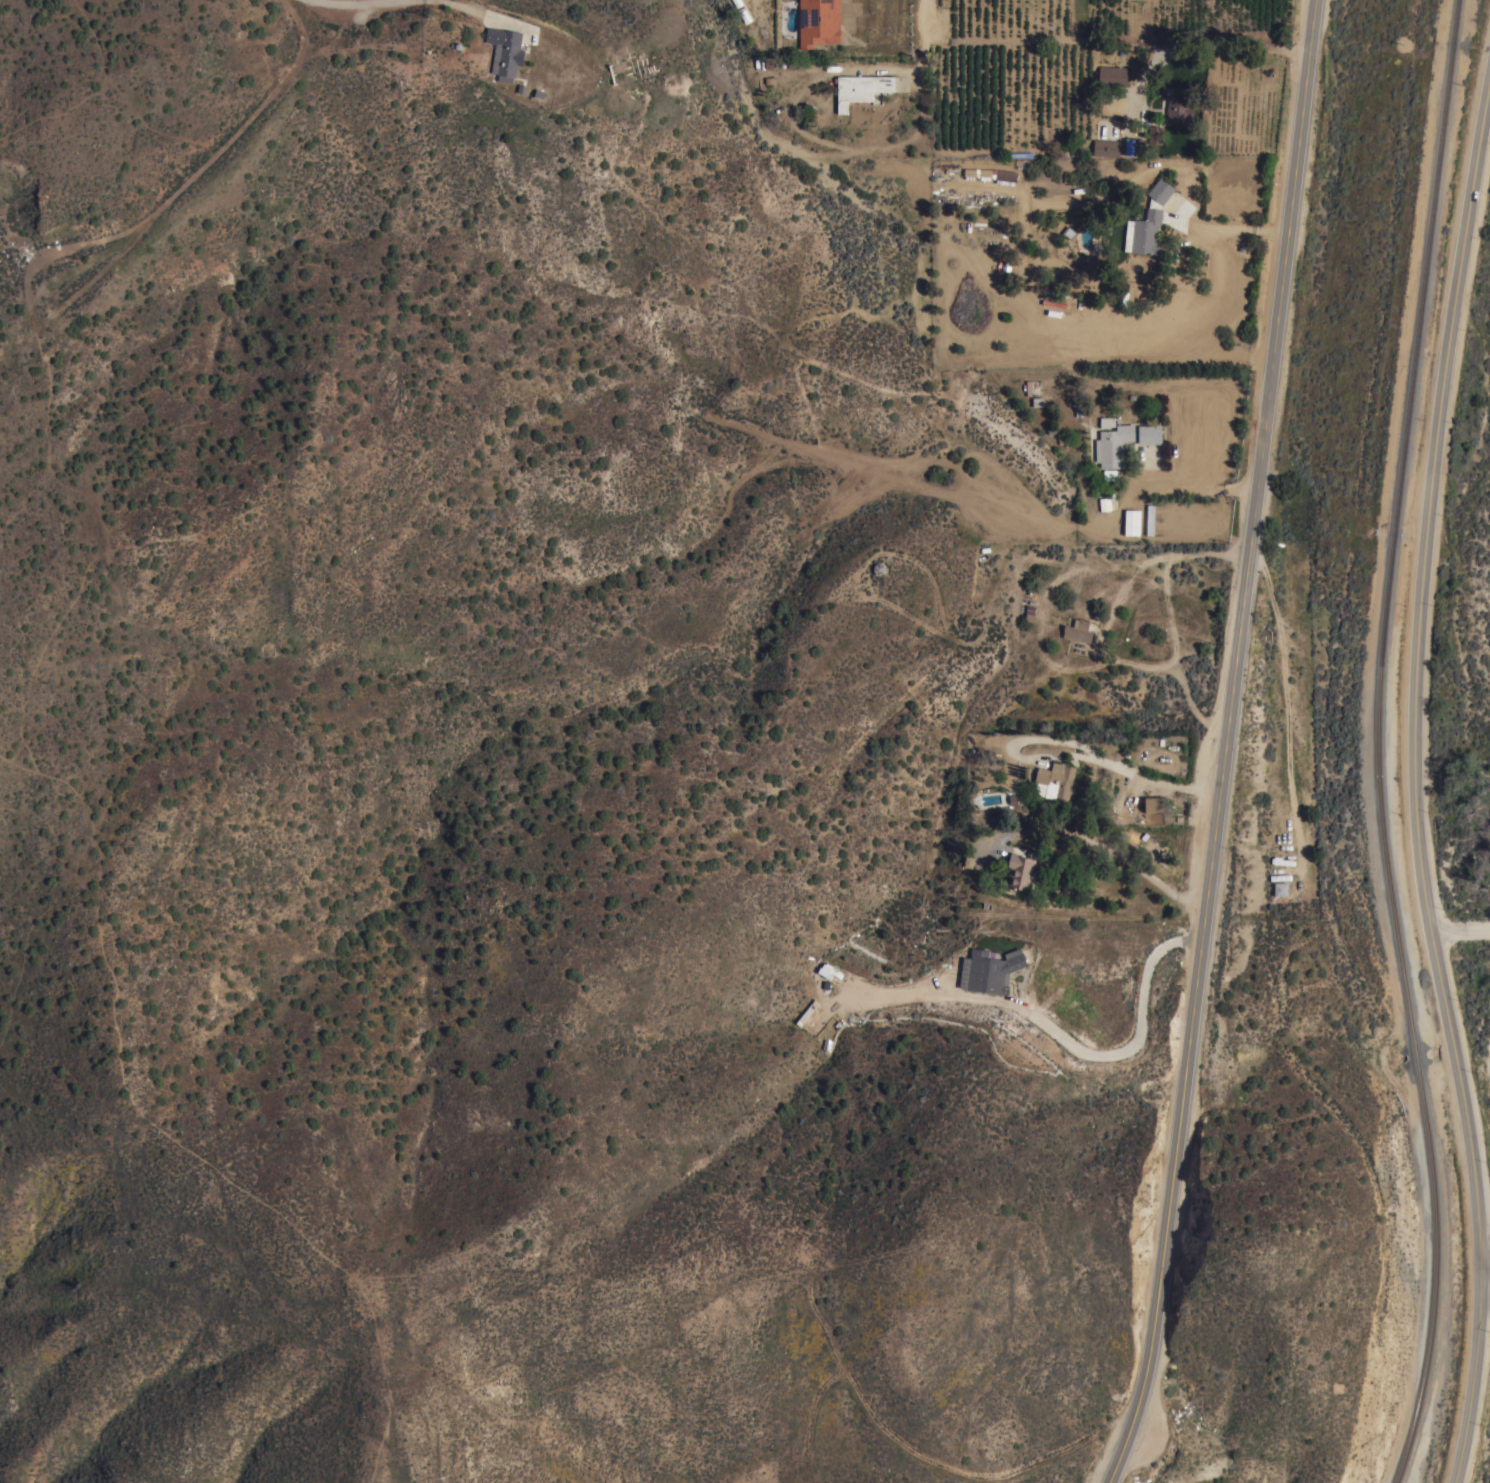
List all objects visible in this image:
road: (365, 2)
building: (738, 5)
road: (488, 9)
building: (818, 21)
building: (505, 52)
road: (925, 62)
building: (1112, 75)
building: (860, 88)
building: (1178, 108)
building: (1155, 134)
building: (1106, 147)
building: (1132, 149)
building: (991, 174)
building: (1147, 221)
railway: (1423, 308)
building: (1031, 387)
building: (1077, 403)
building: (1107, 421)
building: (1149, 433)
building: (1112, 445)
building: (1109, 474)
road: (1198, 485)
building: (1103, 504)
building: (1149, 518)
building: (1131, 521)
building: (1029, 612)
building: (1078, 630)
road: (1290, 703)
road: (1224, 744)
road: (1145, 774)
building: (1054, 780)
road: (1418, 780)
building: (1154, 803)
road: (1114, 850)
building: (1020, 870)
building: (1280, 888)
railway: (1393, 903)
road: (1462, 928)
building: (989, 972)
road: (1138, 1040)
road: (1485, 1277)
railway: (1433, 1337)

